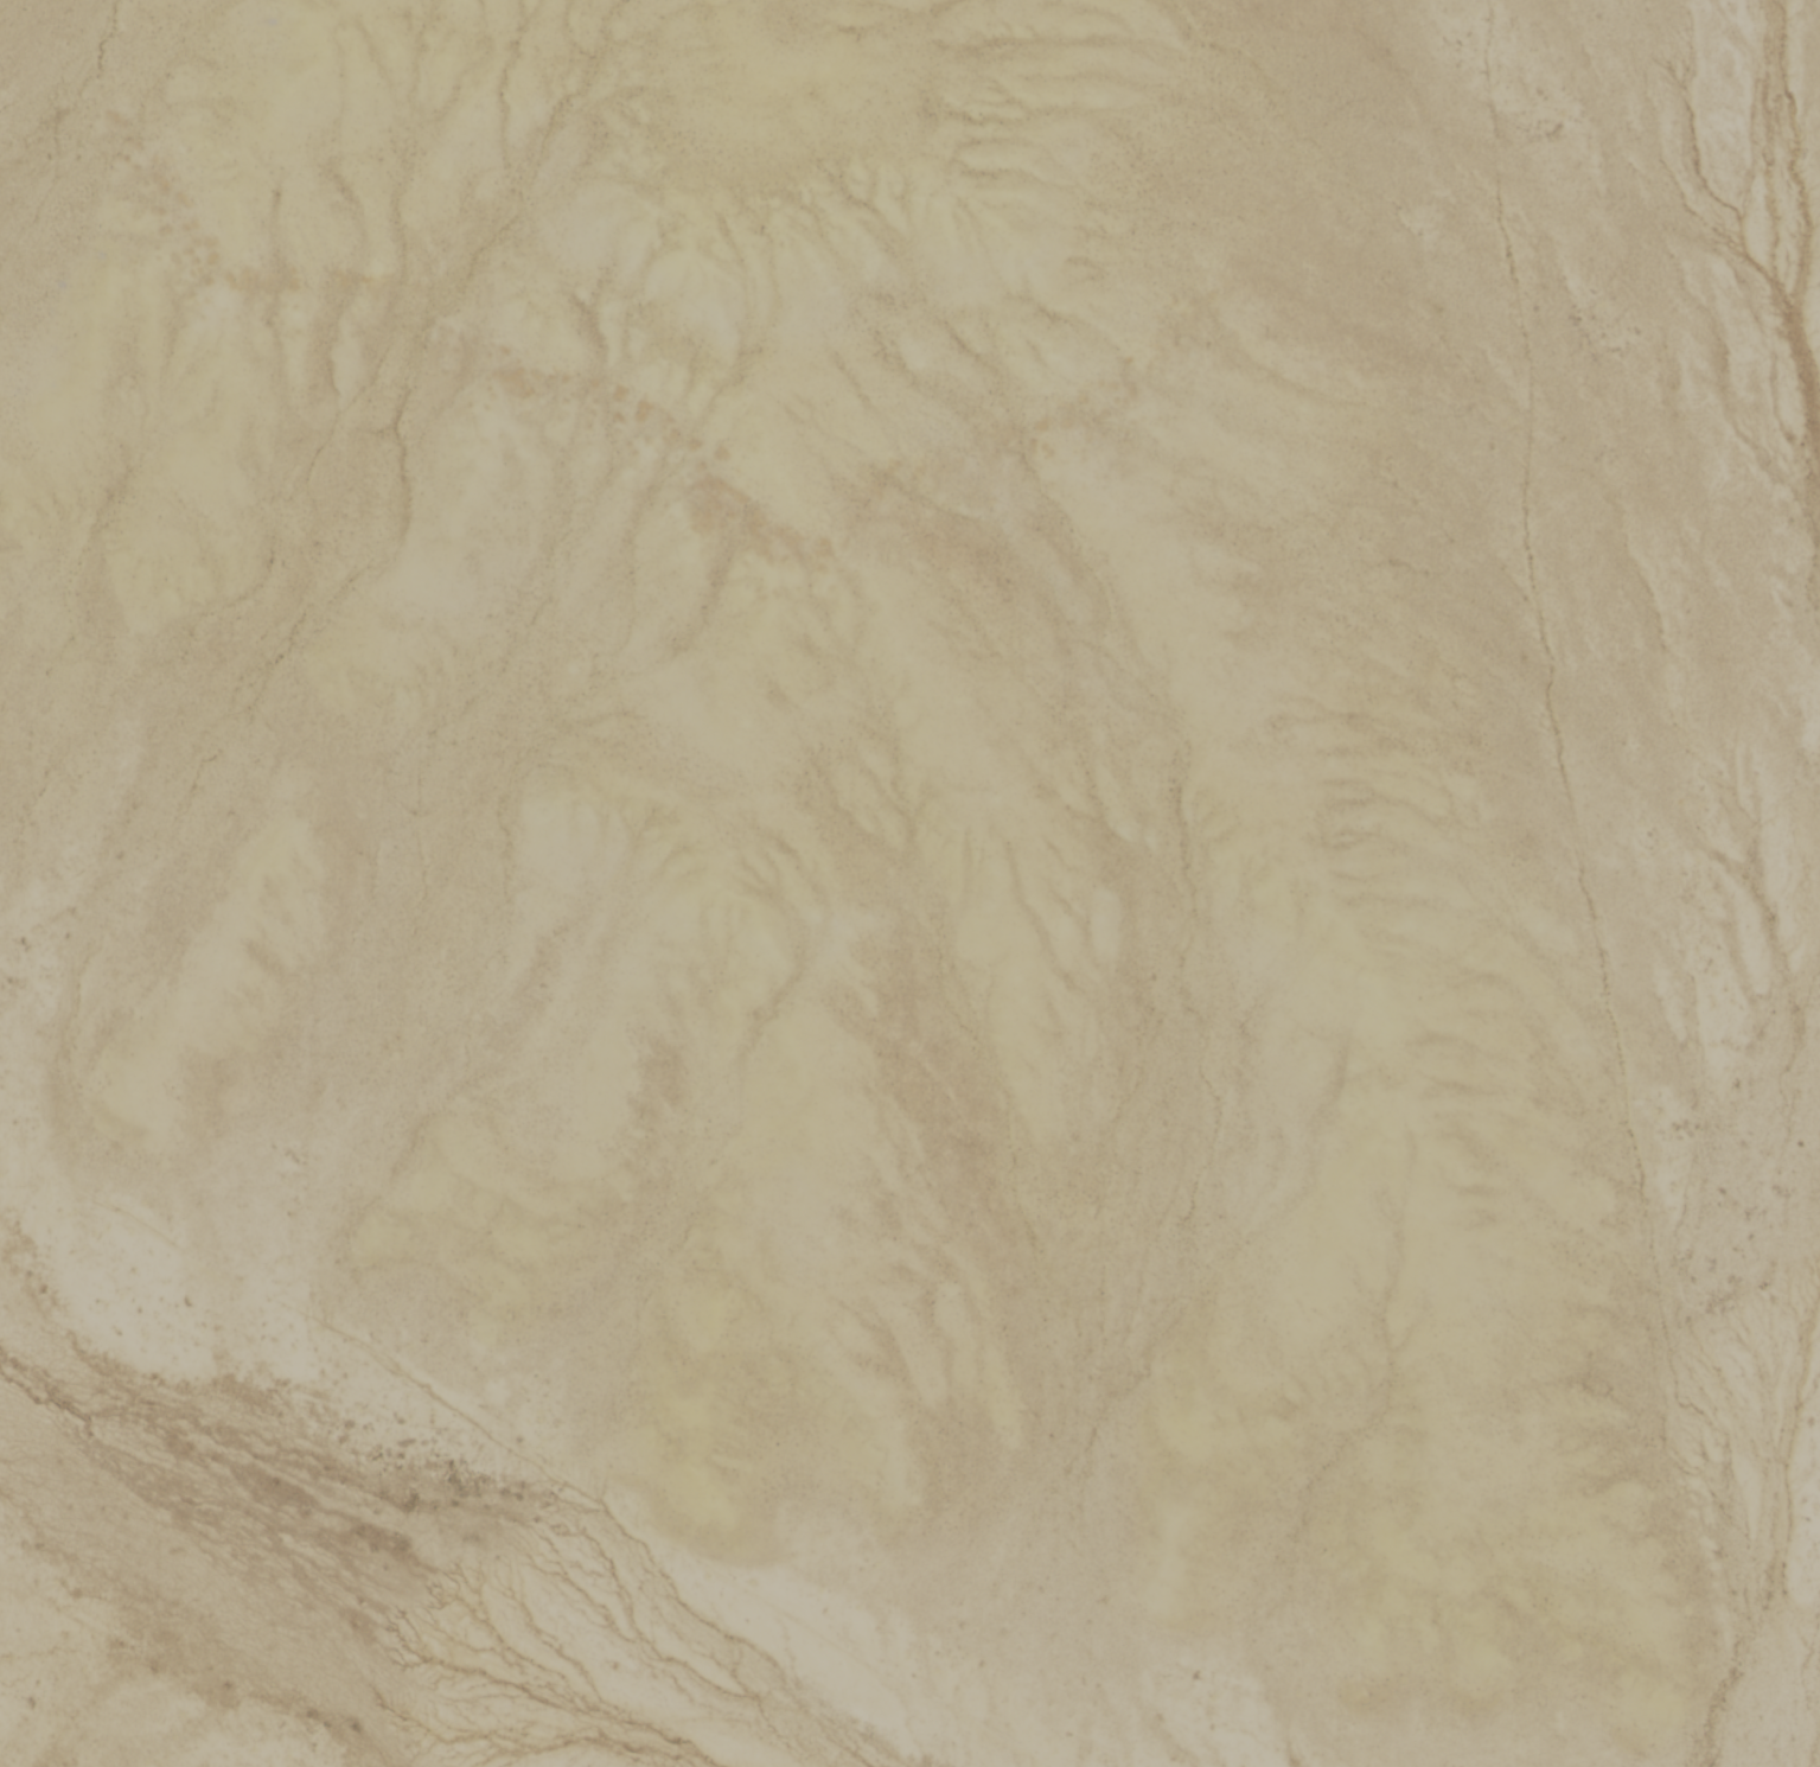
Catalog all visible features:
road: (704, 1179)

